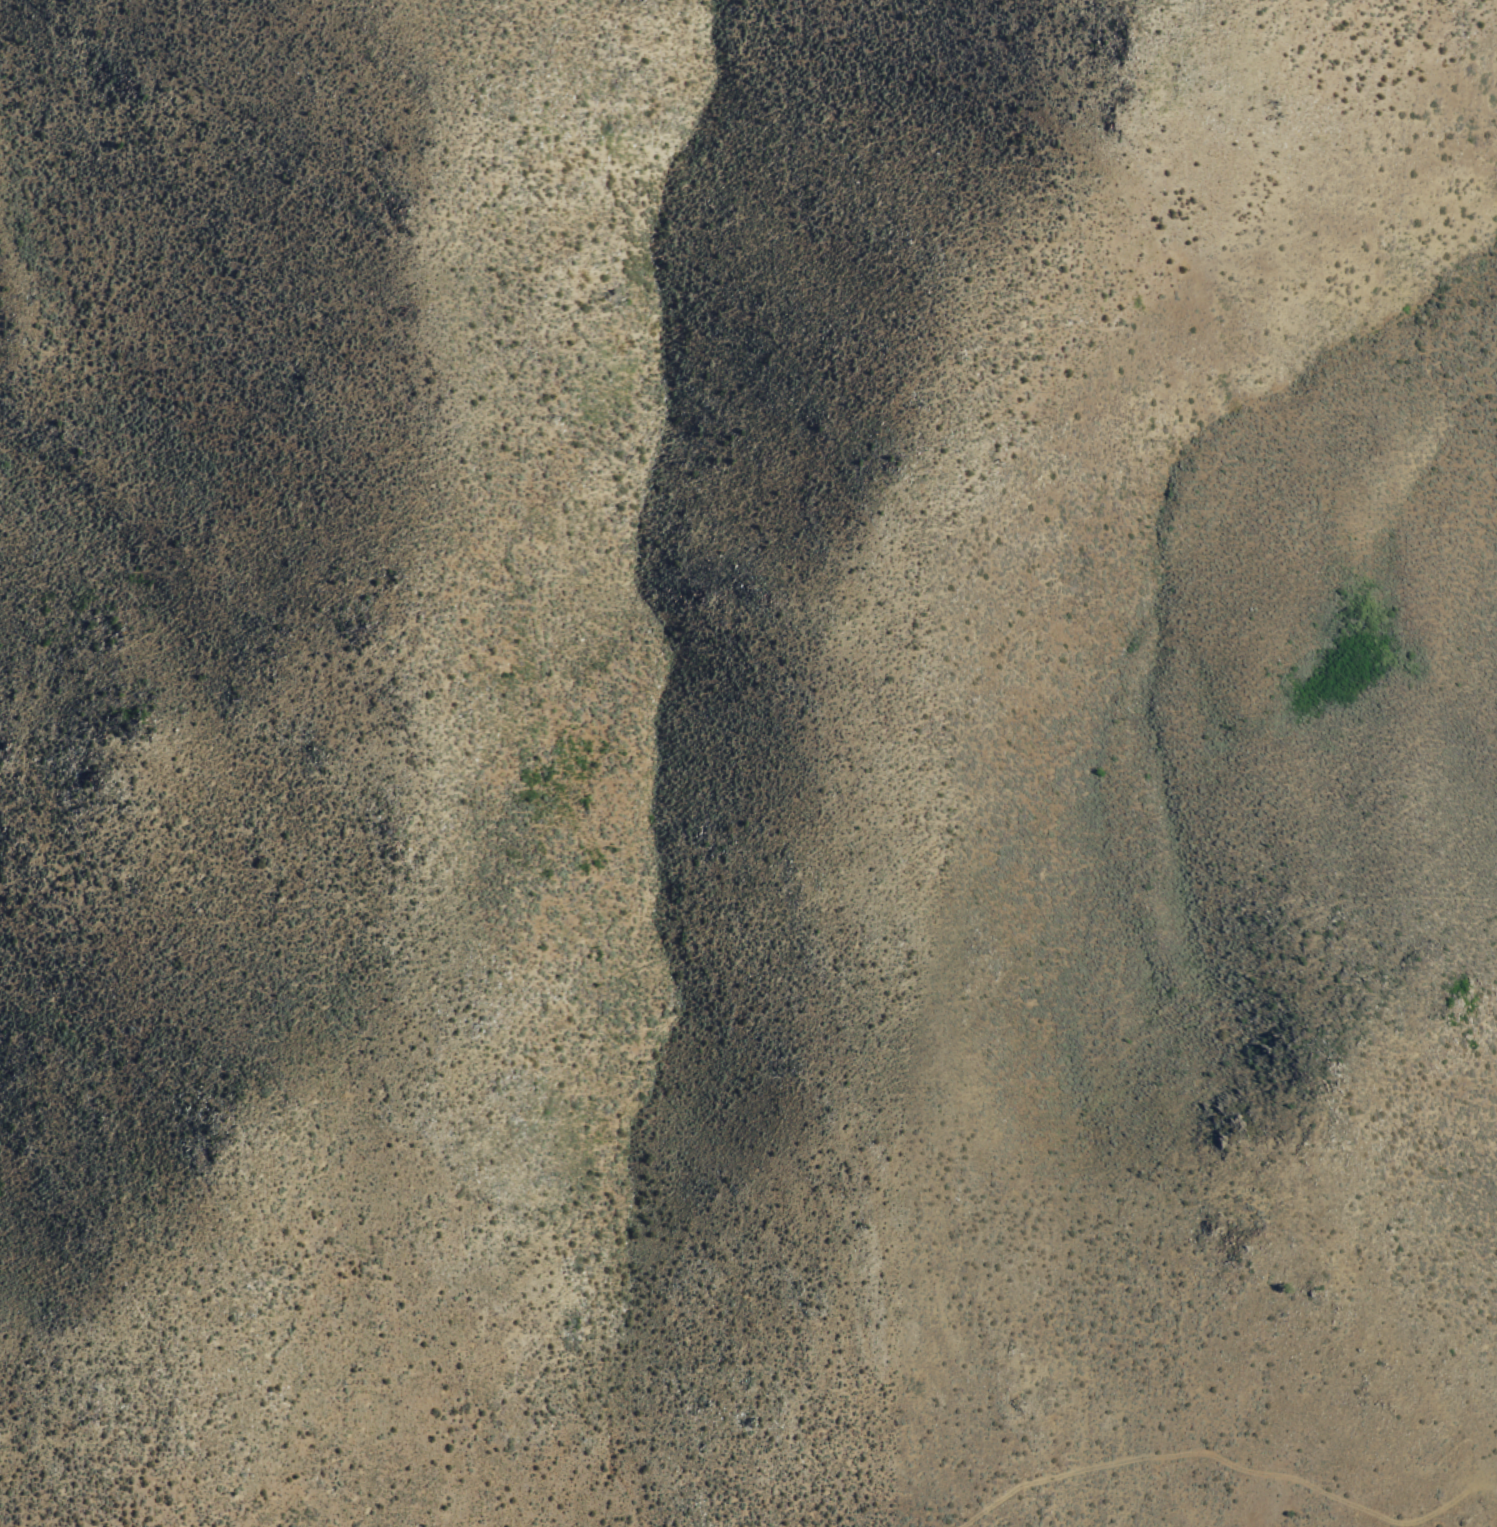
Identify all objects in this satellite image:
road: (1227, 1459)

